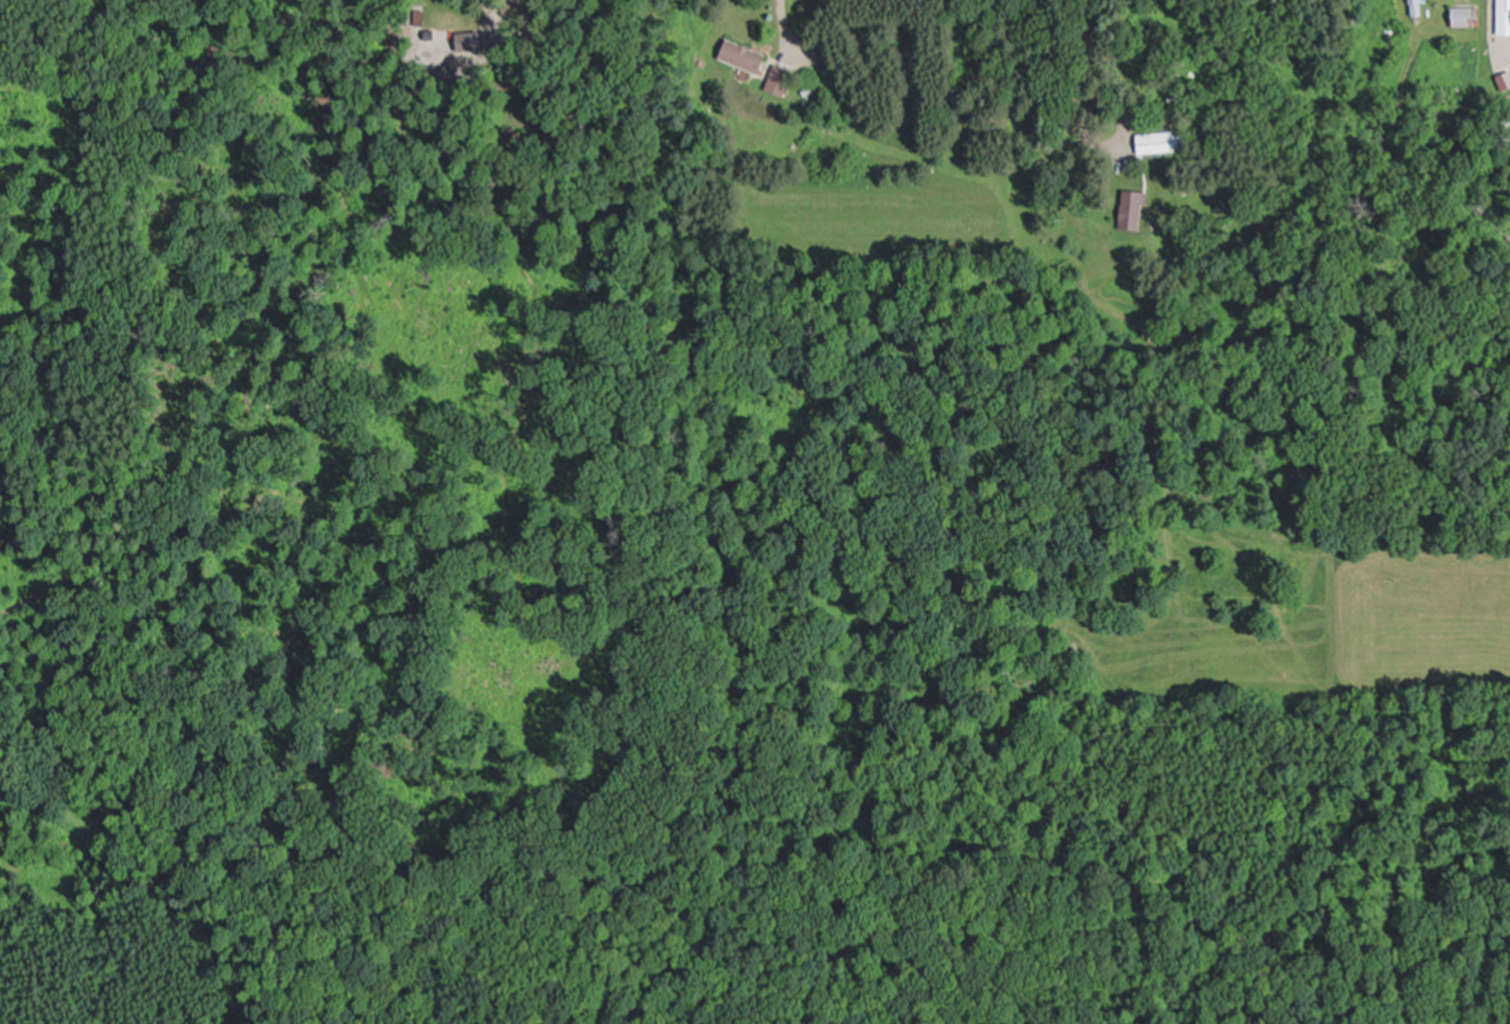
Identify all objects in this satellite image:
building: (1416, 8)
building: (1468, 17)
building: (1504, 18)
road: (780, 29)
road: (1492, 34)
building: (748, 59)
building: (780, 81)
building: (1504, 83)
building: (1160, 145)
building: (1133, 206)

